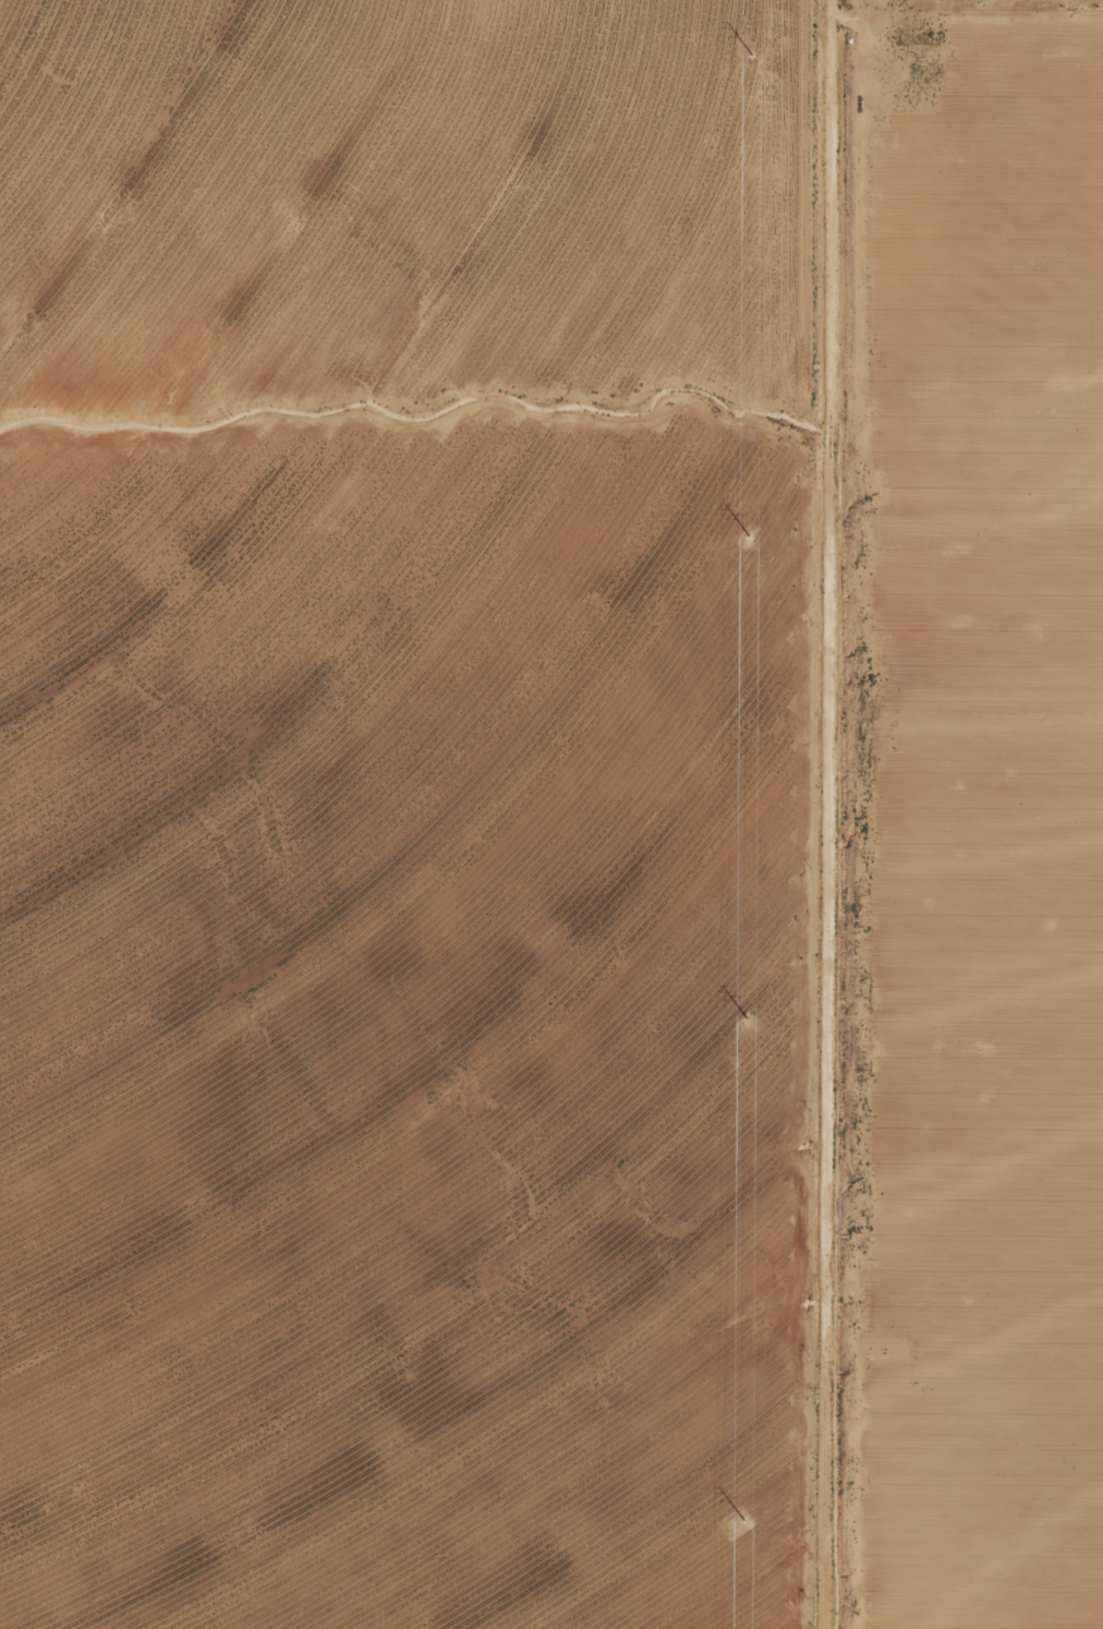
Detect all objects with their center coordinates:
road: (965, 17)
power tower: (737, 57)
power tower: (732, 542)
road: (812, 814)
power tower: (732, 1019)
power tower: (730, 1519)

